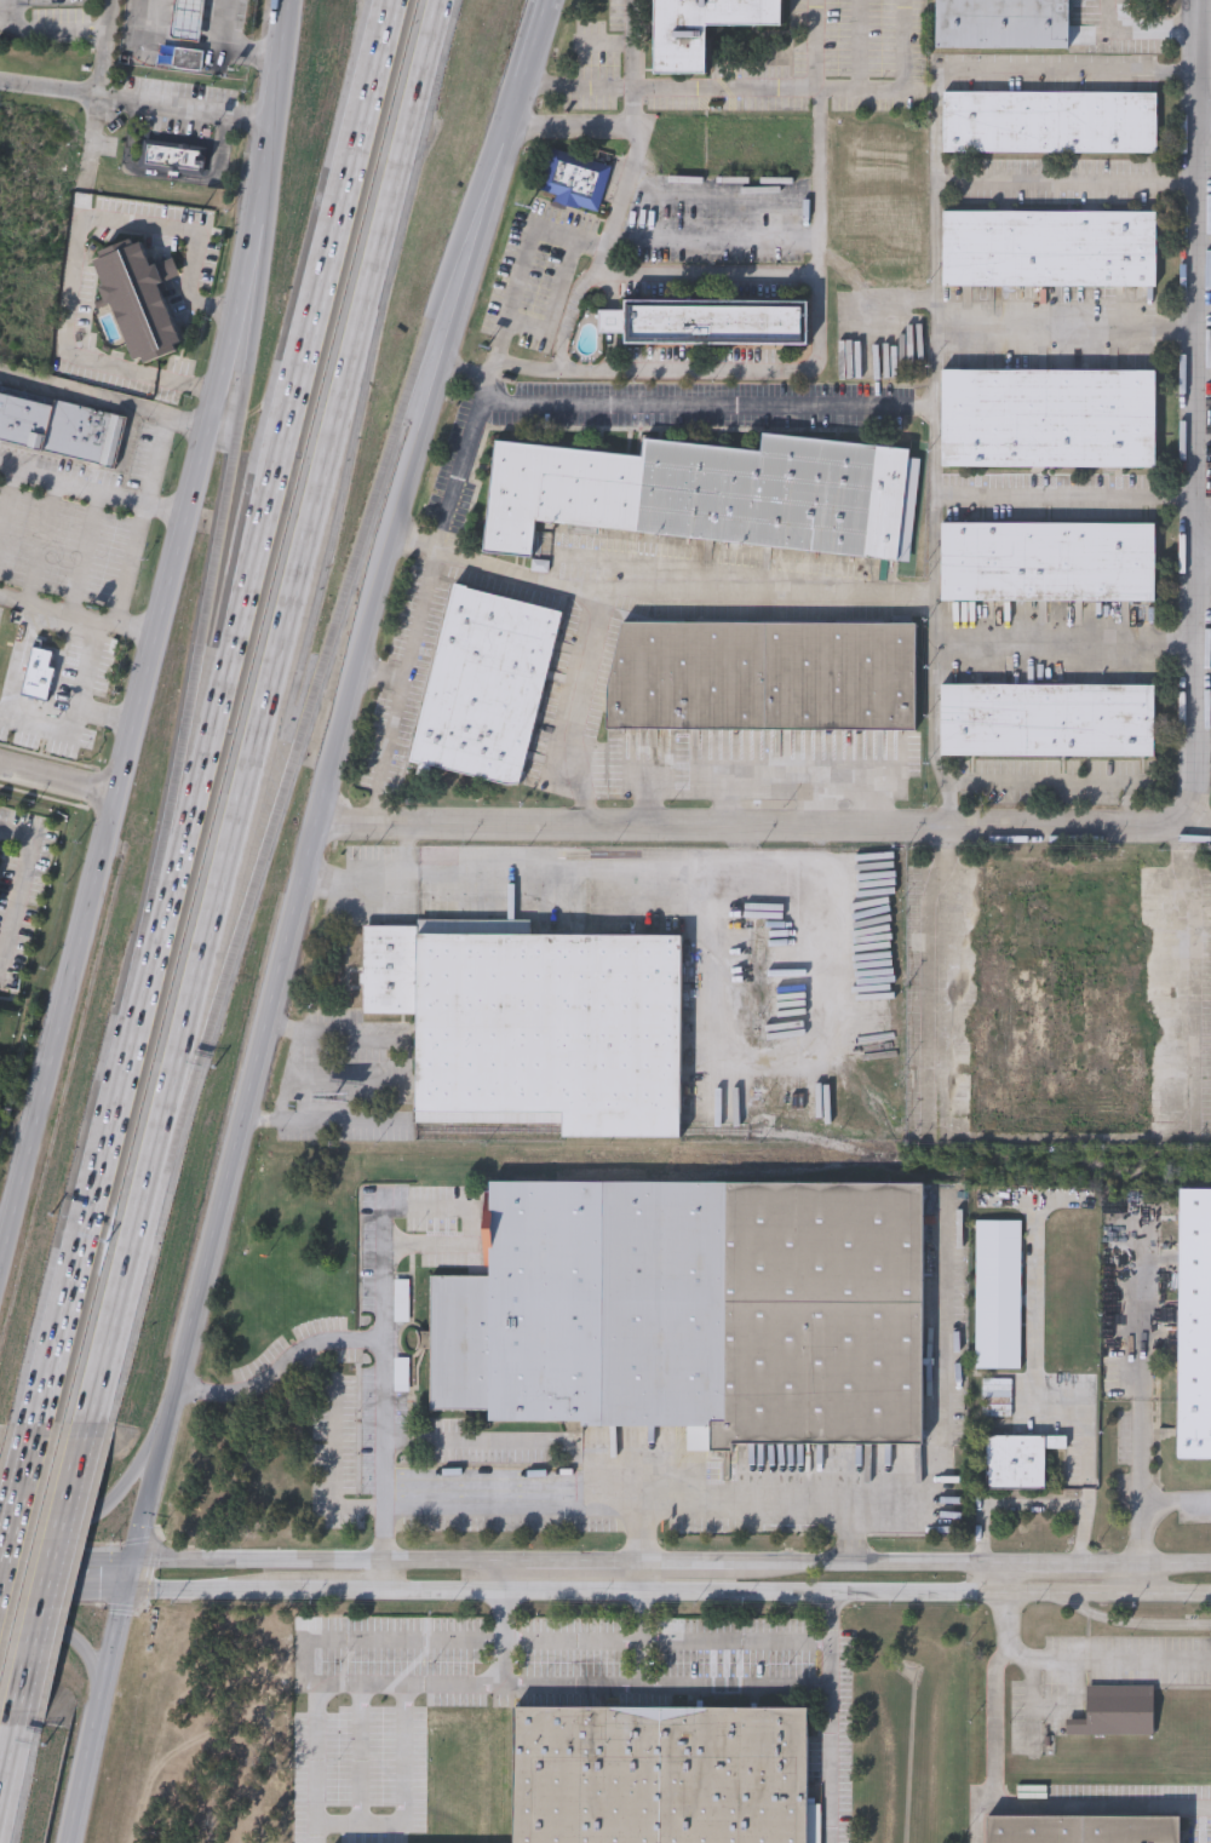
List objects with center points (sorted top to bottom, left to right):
road: (544, 2)
gas station: (189, 21)
building: (186, 22)
building: (1001, 25)
building: (704, 30)
road: (1142, 30)
road: (46, 34)
road: (165, 41)
road: (533, 44)
road: (633, 44)
road: (862, 45)
road: (1205, 45)
road: (104, 46)
road: (224, 47)
building: (189, 61)
road: (813, 88)
road: (134, 99)
road: (515, 105)
road: (630, 110)
road: (1205, 119)
building: (1049, 125)
road: (91, 137)
building: (171, 160)
road: (171, 174)
building: (575, 182)
road: (1069, 184)
road: (482, 185)
road: (721, 197)
road: (339, 224)
road: (536, 229)
road: (712, 242)
building: (1049, 249)
road: (74, 251)
road: (707, 274)
road: (254, 279)
building: (139, 302)
road: (574, 304)
building: (710, 322)
road: (939, 325)
road: (1067, 328)
road: (820, 345)
road: (706, 404)
road: (1195, 413)
building: (1046, 420)
building: (63, 430)
road: (161, 437)
road: (419, 443)
road: (452, 478)
road: (92, 492)
road: (1064, 494)
building: (708, 495)
road: (1203, 552)
building: (1048, 563)
road: (213, 572)
road: (295, 579)
road: (763, 599)
road: (78, 613)
road: (593, 632)
road: (412, 635)
road: (155, 636)
road: (1064, 637)
road: (328, 647)
building: (38, 677)
building: (762, 678)
road: (223, 685)
building: (484, 688)
road: (80, 713)
building: (1046, 718)
road: (105, 720)
road: (1201, 746)
road: (385, 753)
road: (802, 773)
road: (57, 777)
road: (1056, 785)
road: (1195, 823)
road: (747, 829)
road: (167, 866)
road: (603, 877)
road: (381, 884)
road: (22, 888)
road: (1183, 965)
building: (1060, 1004)
building: (532, 1024)
road: (288, 1078)
road: (176, 1106)
railway: (582, 1130)
road: (99, 1178)
road: (419, 1208)
road: (115, 1297)
road: (195, 1298)
building: (691, 1314)
building: (1193, 1328)
road: (344, 1339)
road: (1037, 1378)
road: (945, 1384)
road: (1141, 1386)
building: (997, 1400)
building: (1017, 1463)
road: (329, 1470)
road: (545, 1489)
road: (747, 1492)
road: (1144, 1502)
road: (17, 1505)
road: (1009, 1508)
road: (94, 1517)
road: (383, 1523)
road: (855, 1528)
road: (1083, 1534)
road: (315, 1558)
road: (573, 1561)
road: (688, 1561)
road: (869, 1562)
road: (1057, 1562)
road: (1159, 1563)
road: (46, 1573)
traffic signals: (128, 1574)
road: (383, 1574)
road: (503, 1575)
road: (642, 1575)
road: (1006, 1577)
road: (1142, 1577)
road: (64, 1578)
road: (667, 1590)
road: (1132, 1623)
road: (642, 1635)
road: (833, 1636)
road: (380, 1640)
road: (572, 1640)
road: (737, 1640)
road: (63, 1642)
road: (1080, 1660)
road: (409, 1680)
road: (624, 1680)
building: (1115, 1710)
road: (6, 1741)
road: (320, 1761)
road: (832, 1762)
building: (658, 1775)
road: (1017, 1804)
road: (976, 1810)
road: (339, 1816)
road: (380, 1816)
building: (1081, 1830)

